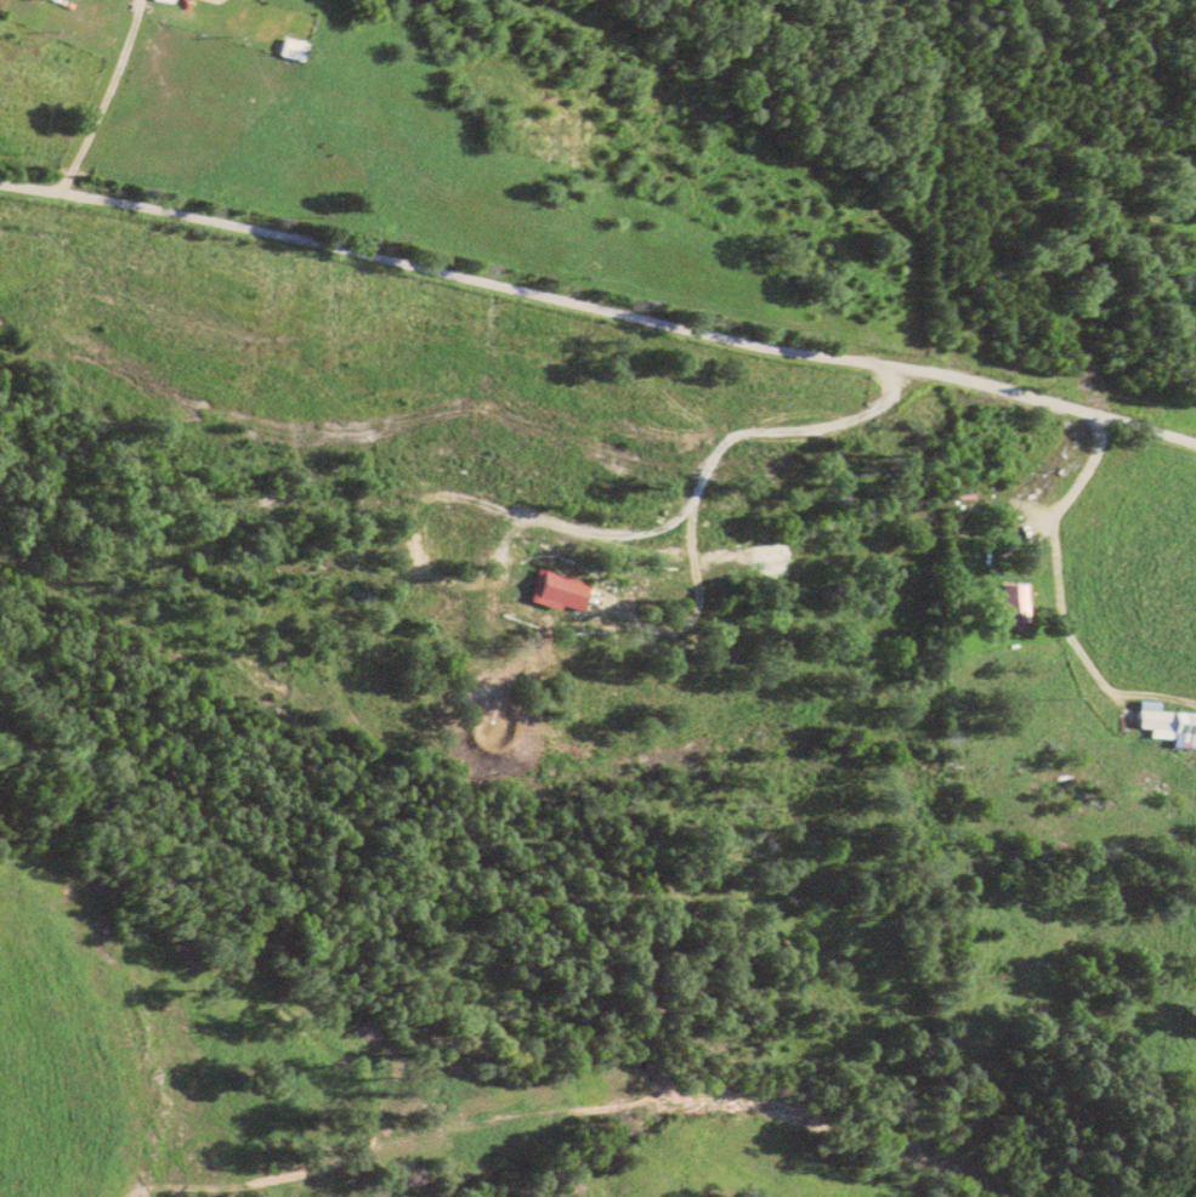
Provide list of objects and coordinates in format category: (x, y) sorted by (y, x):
building: (164, 0)
building: (290, 49)
road: (100, 101)
road: (599, 312)
road: (1079, 499)
building: (560, 590)
building: (1016, 602)
building: (1171, 726)

